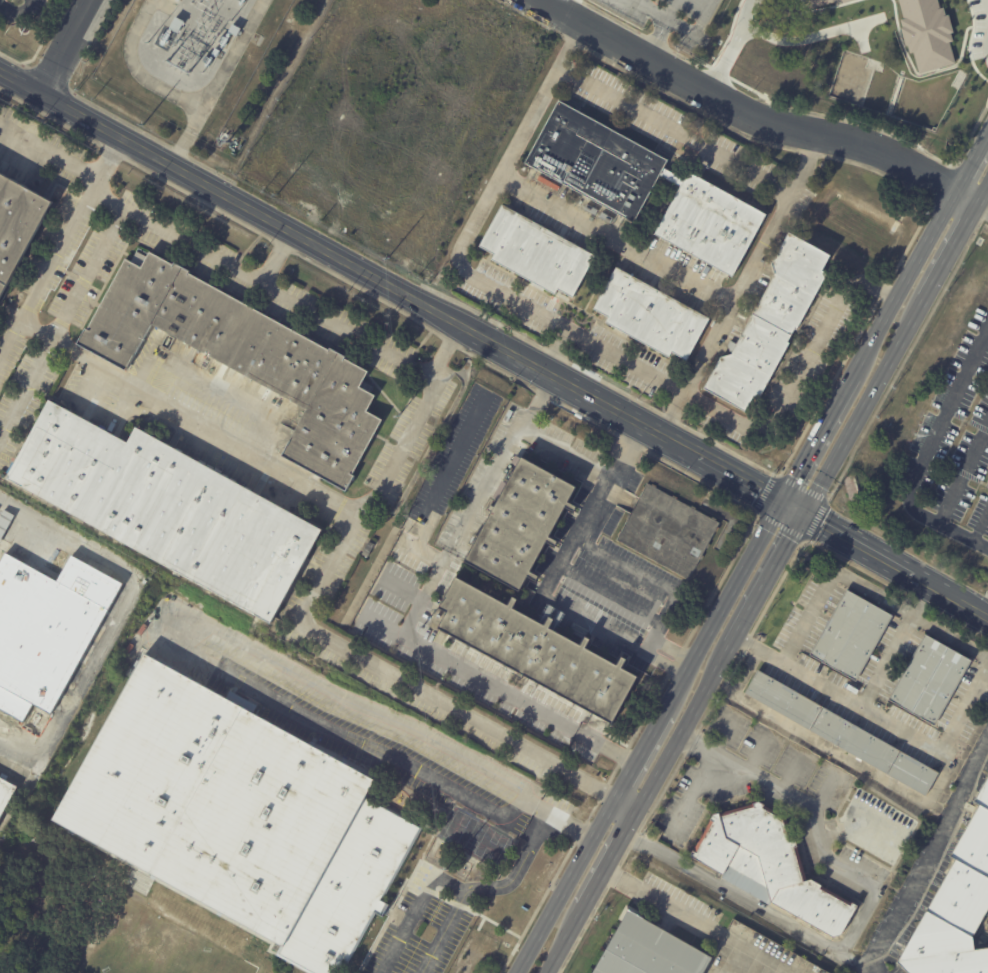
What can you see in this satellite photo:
building: (179, 0)
building: (816, 3)
road: (987, 7)
road: (16, 12)
road: (658, 12)
building: (178, 25)
building: (236, 30)
building: (928, 34)
road: (653, 35)
road: (735, 46)
road: (67, 47)
building: (219, 53)
power substation: (189, 57)
road: (744, 109)
building: (525, 120)
road: (672, 128)
building: (226, 139)
road: (48, 152)
road: (972, 159)
building: (595, 161)
road: (505, 163)
road: (971, 193)
road: (986, 197)
road: (986, 203)
road: (245, 205)
building: (710, 225)
building: (19, 227)
road: (176, 237)
road: (613, 239)
road: (956, 250)
building: (536, 252)
road: (907, 278)
road: (737, 283)
building: (650, 315)
road: (320, 317)
building: (767, 325)
road: (566, 328)
road: (10, 341)
building: (246, 357)
building: (202, 361)
road: (98, 366)
road: (797, 375)
road: (25, 385)
road: (868, 406)
road: (637, 420)
road: (548, 430)
road: (820, 436)
road: (924, 457)
traffic signals: (784, 501)
road: (795, 507)
building: (171, 509)
traffic signals: (807, 513)
building: (5, 523)
building: (517, 523)
building: (670, 531)
building: (370, 549)
road: (897, 564)
road: (649, 576)
road: (769, 580)
road: (547, 581)
road: (868, 590)
road: (725, 605)
road: (117, 620)
road: (311, 626)
building: (48, 630)
road: (406, 632)
building: (851, 636)
building: (539, 650)
road: (745, 670)
road: (800, 672)
building: (929, 680)
road: (883, 716)
road: (685, 727)
building: (841, 734)
road: (641, 753)
road: (845, 757)
road: (772, 786)
road: (694, 793)
building: (6, 795)
road: (629, 802)
road: (495, 807)
building: (243, 816)
road: (563, 821)
building: (875, 826)
road: (613, 857)
road: (928, 857)
building: (770, 866)
road: (567, 884)
road: (664, 904)
building: (956, 907)
road: (788, 923)
road: (446, 932)
road: (566, 939)
building: (647, 949)
road: (750, 956)
road: (2, 971)

